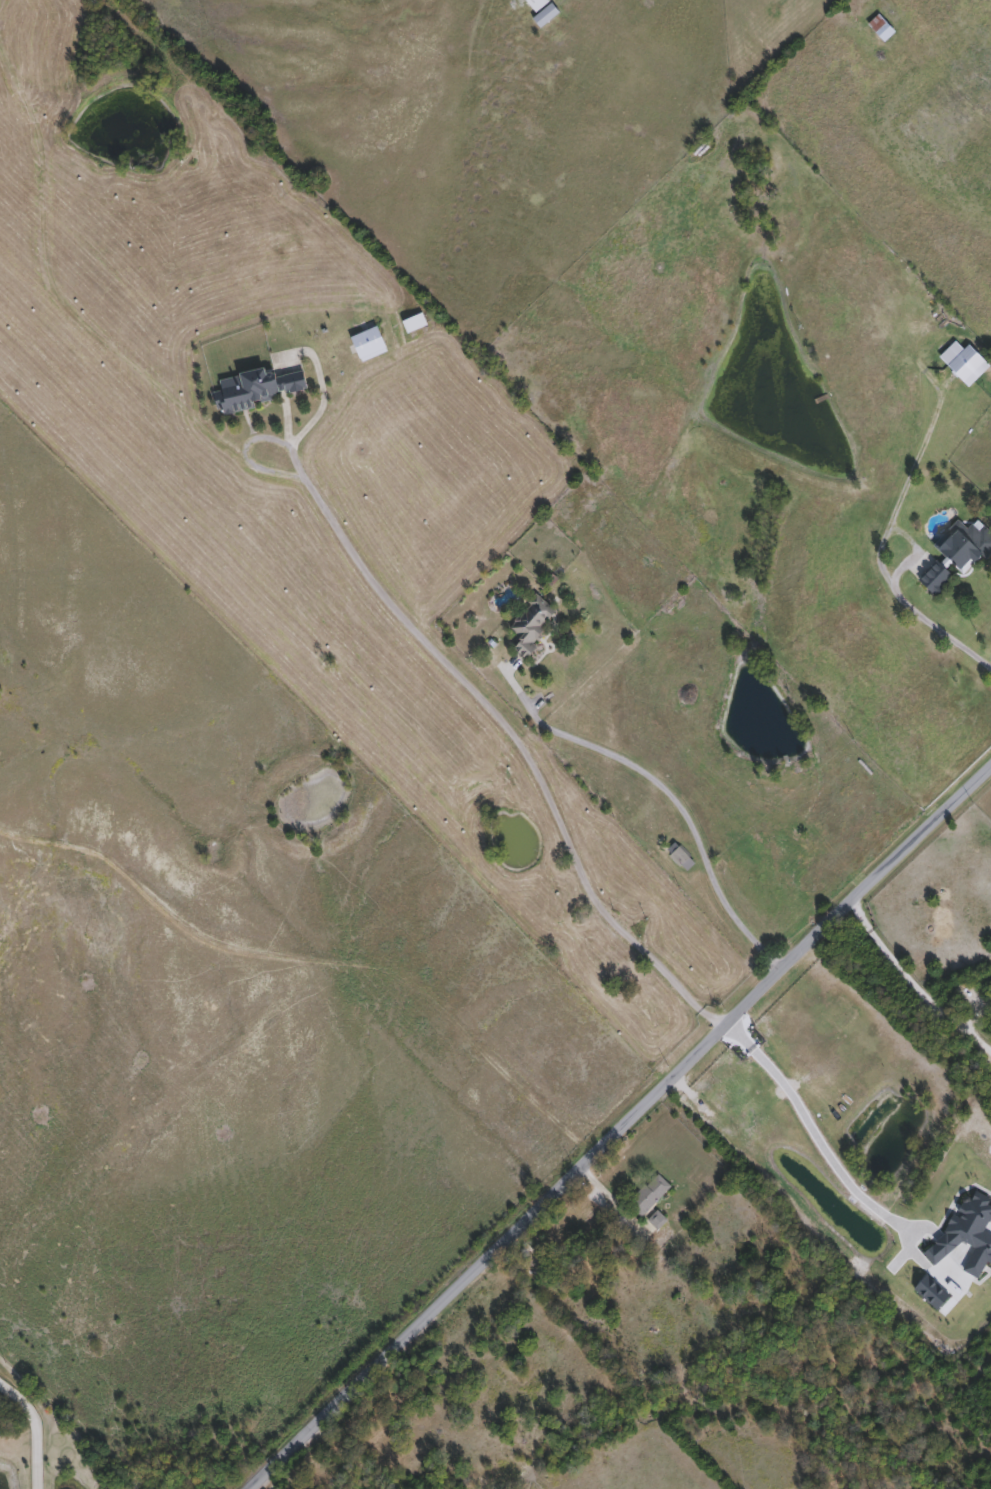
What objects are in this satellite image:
building: (543, 11)
building: (882, 29)
building: (415, 323)
building: (370, 344)
building: (977, 366)
building: (260, 388)
road: (249, 462)
road: (879, 554)
building: (960, 555)
building: (531, 626)
road: (511, 734)
road: (668, 791)
building: (681, 857)
building: (621, 966)
road: (913, 982)
road: (618, 1128)
road: (810, 1133)
building: (650, 1196)
building: (658, 1223)
road: (34, 1428)

